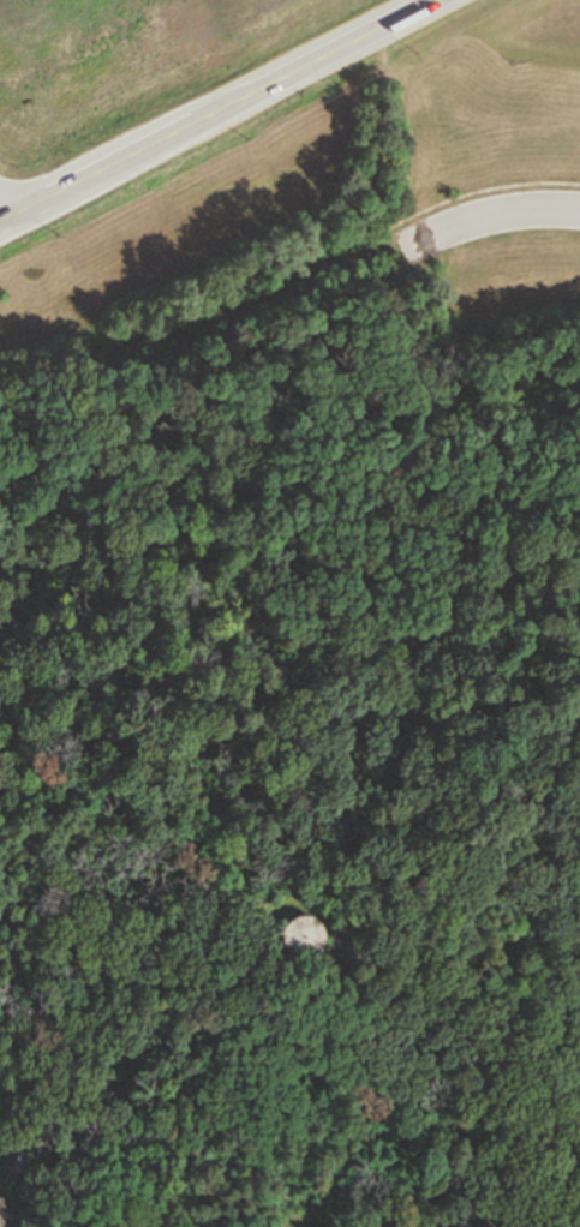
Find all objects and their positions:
road: (217, 110)
road: (490, 215)
building: (321, 933)
building: (17, 1159)
building: (10, 1210)

